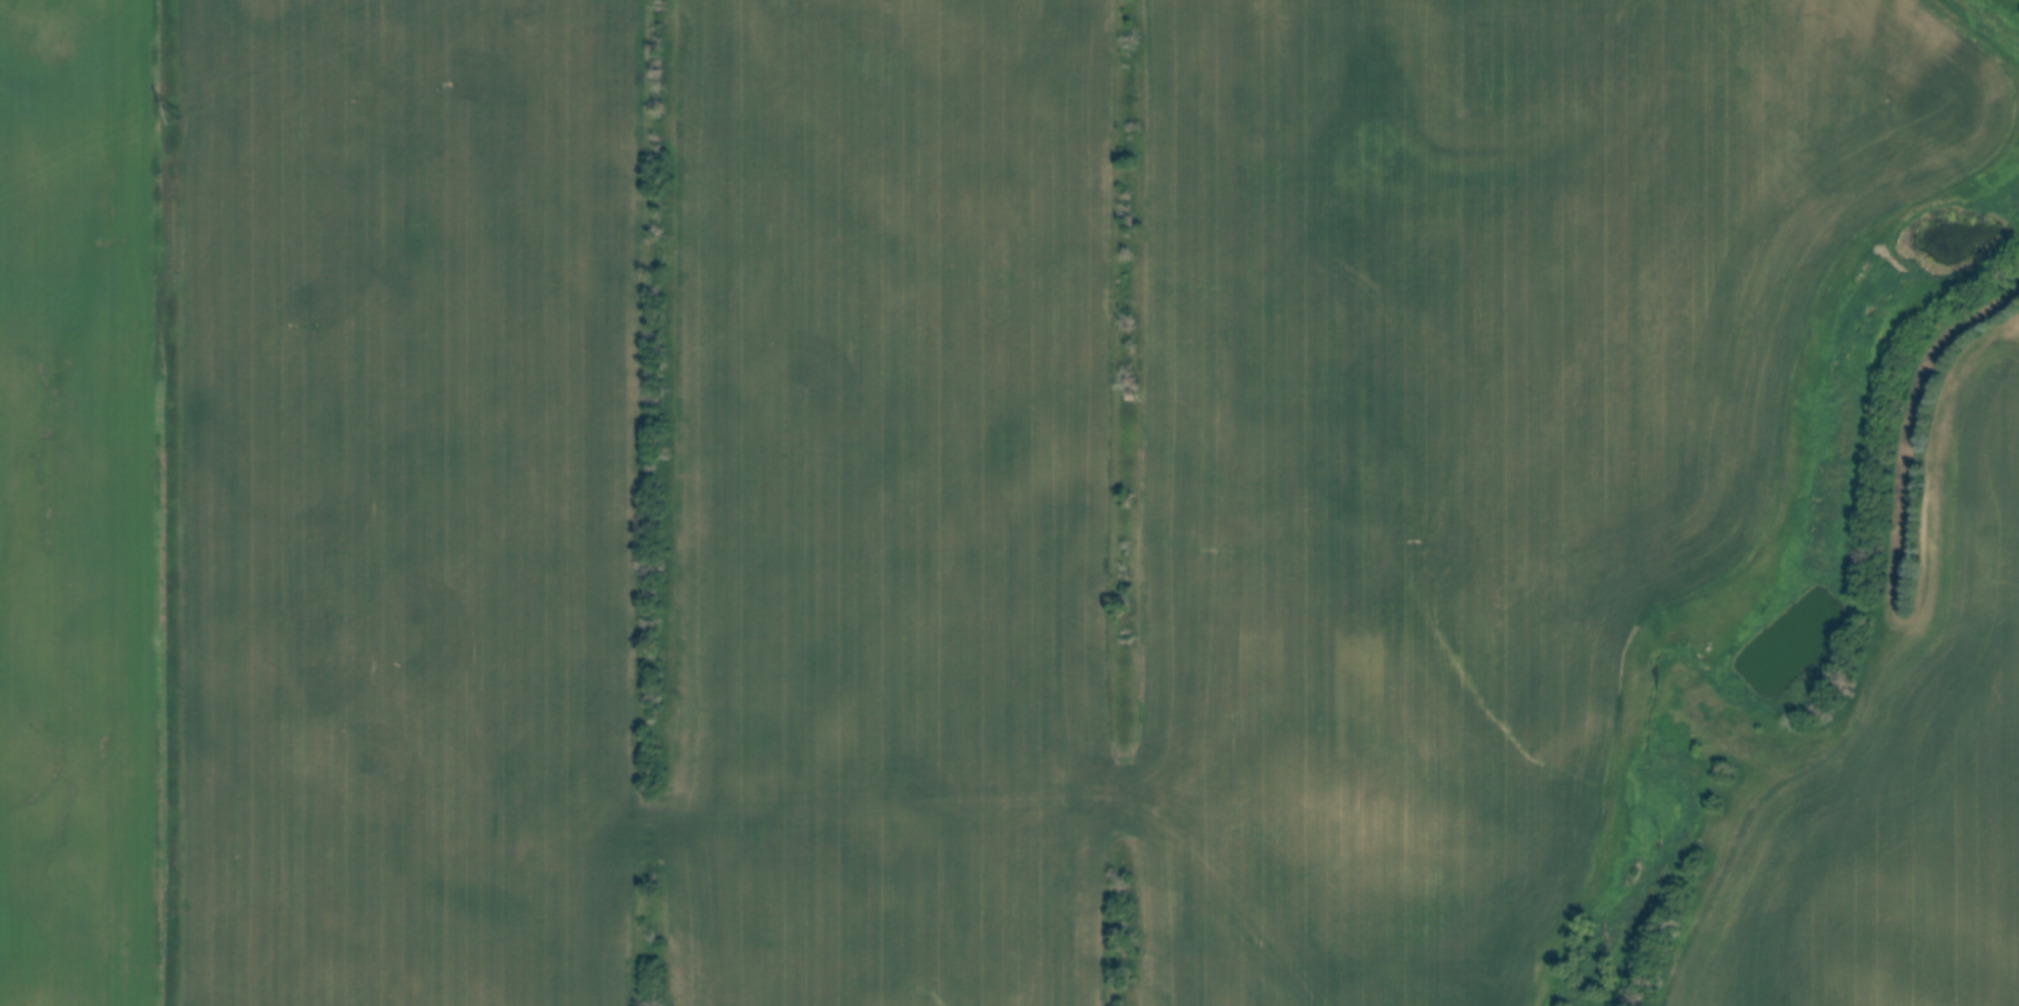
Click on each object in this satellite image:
power tower: (175, 112)
road: (1594, 775)
road: (1232, 902)

